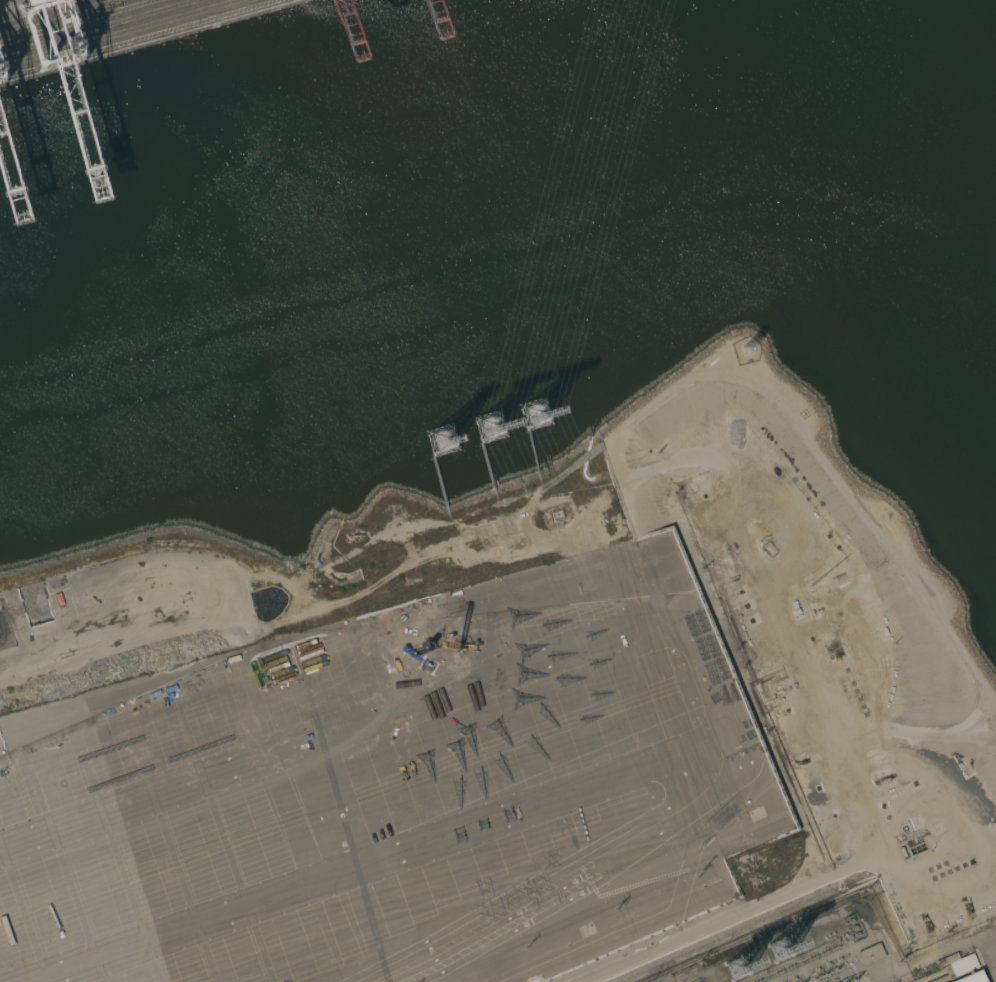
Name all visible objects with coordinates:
railway: (103, 29)
pier: (106, 29)
power tower: (536, 414)
power tower: (492, 428)
petroleum well: (774, 470)
power tower: (407, 631)
petroleum well: (802, 762)
petroleum well: (883, 779)
petroleum well: (968, 906)
petroleum well: (925, 924)
power plant: (829, 947)
power substation: (811, 949)
power tower: (781, 950)
building: (871, 954)
building: (957, 964)
power tower: (739, 971)
building: (972, 977)

